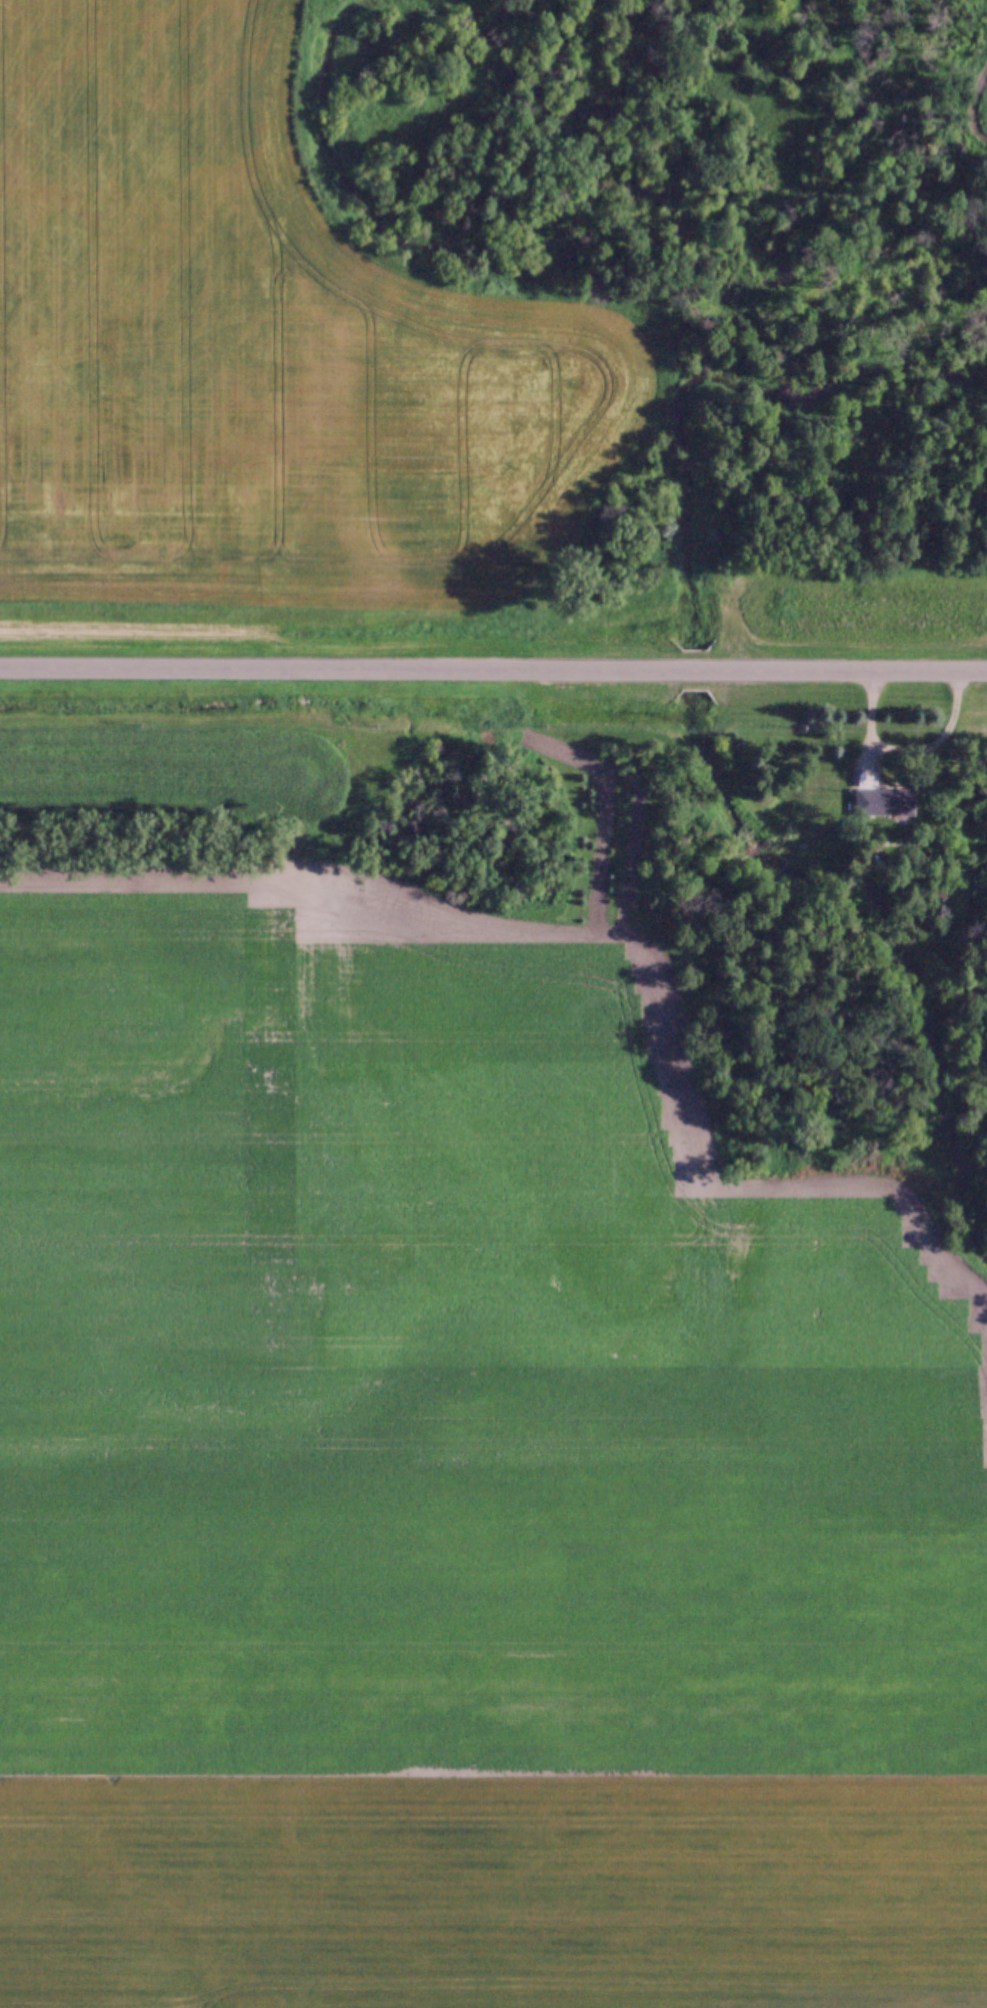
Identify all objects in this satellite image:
road: (341, 668)
road: (704, 668)
road: (855, 669)
road: (914, 752)
building: (881, 804)

